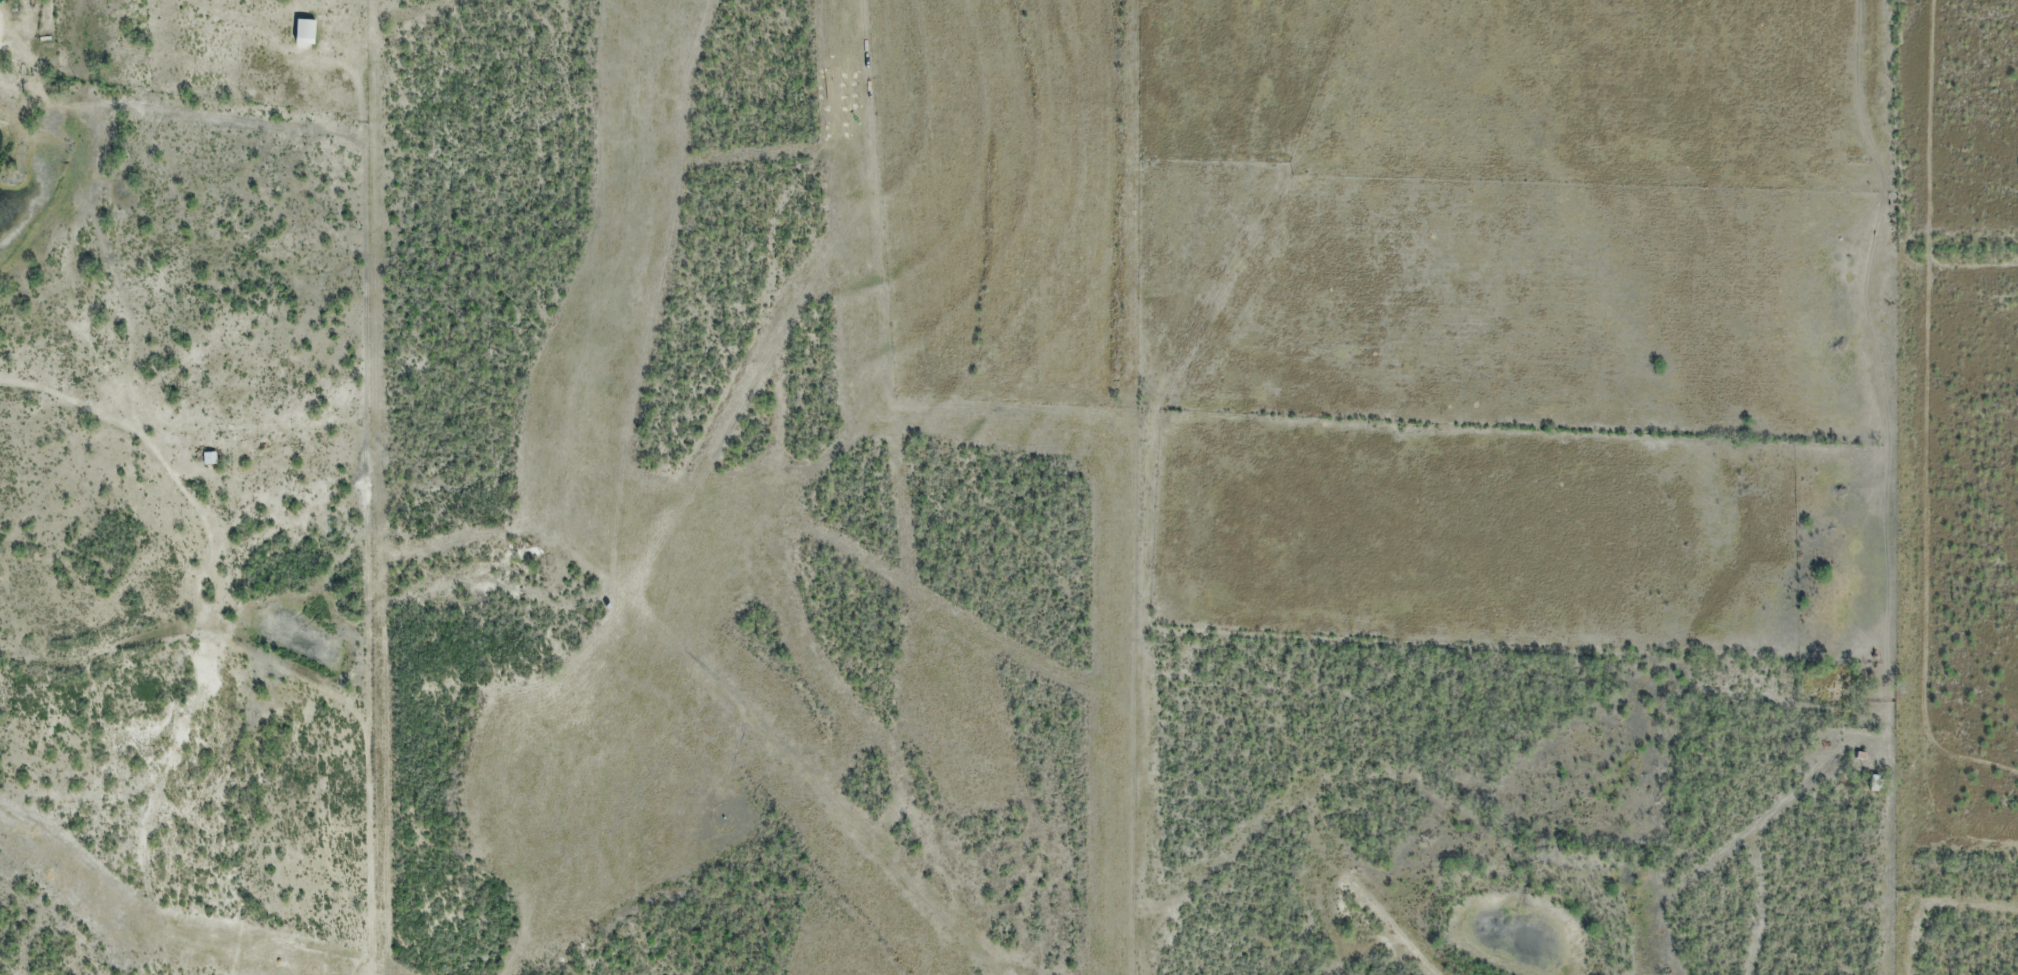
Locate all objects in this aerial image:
building: (306, 31)
building: (1873, 783)

